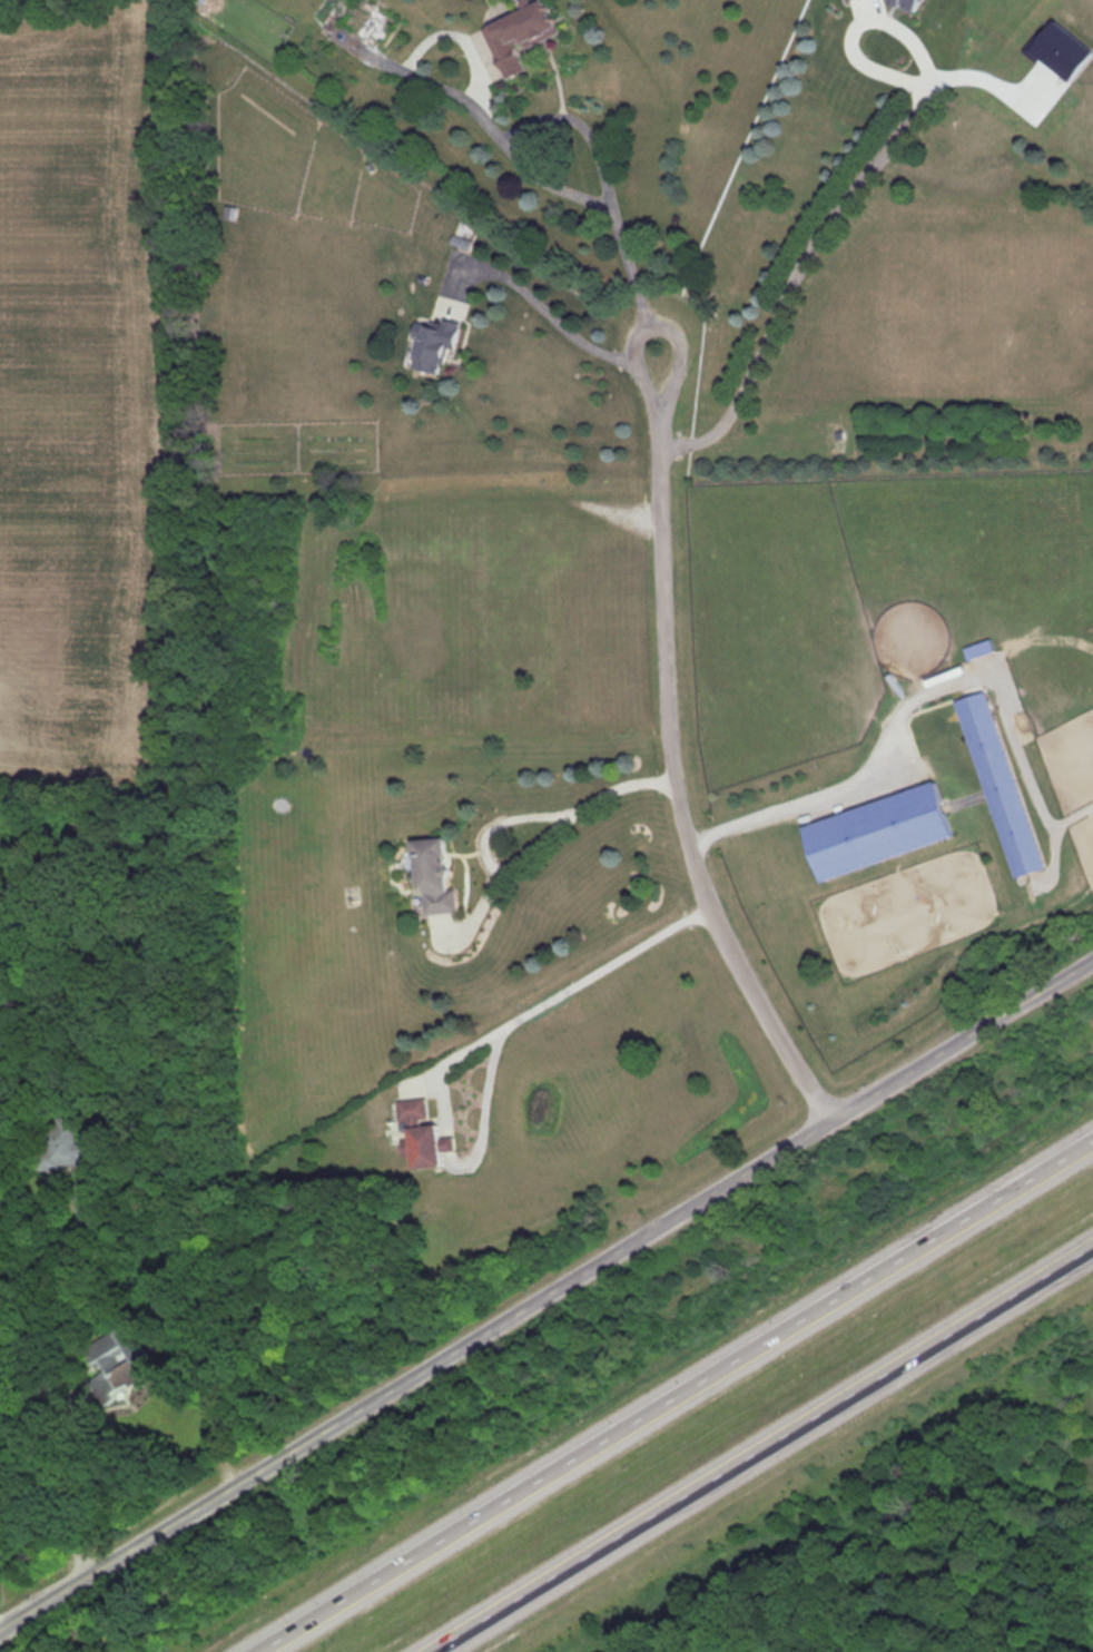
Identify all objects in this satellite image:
building: (199, 1)
building: (364, 19)
building: (525, 32)
road: (563, 80)
road: (579, 126)
road: (534, 176)
road: (850, 185)
road: (554, 321)
building: (430, 347)
building: (837, 437)
road: (680, 755)
building: (1007, 784)
road: (849, 789)
building: (884, 832)
road: (553, 834)
building: (432, 878)
road: (575, 990)
building: (415, 1111)
building: (62, 1147)
building: (421, 1148)
building: (87, 1209)
road: (546, 1297)
building: (116, 1361)
road: (679, 1398)
road: (767, 1451)
road: (56, 1483)
park: (945, 1560)

